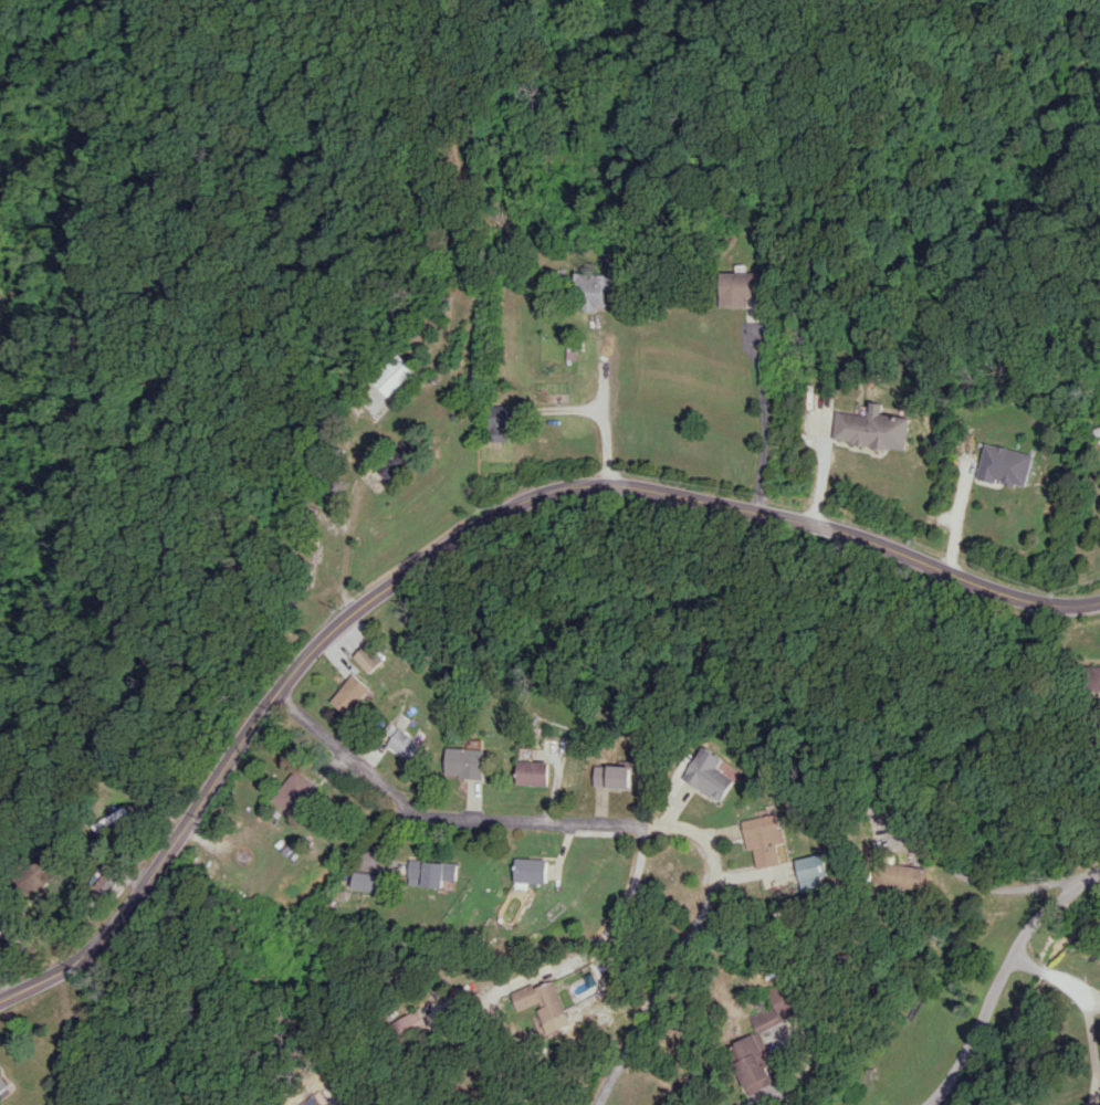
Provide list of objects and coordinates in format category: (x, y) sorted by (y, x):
building: (741, 287)
building: (595, 291)
building: (391, 375)
road: (601, 408)
road: (766, 408)
building: (497, 422)
building: (871, 428)
building: (395, 461)
building: (1004, 465)
road: (954, 519)
road: (464, 538)
building: (1094, 677)
building: (352, 694)
building: (404, 743)
building: (464, 761)
building: (533, 771)
building: (711, 773)
building: (614, 776)
building: (293, 790)
road: (616, 827)
building: (766, 839)
building: (814, 870)
building: (530, 871)
building: (431, 872)
building: (908, 875)
building: (365, 881)
road: (979, 883)
road: (1001, 977)
road: (512, 982)
building: (545, 1003)
road: (1086, 1009)
building: (408, 1021)
building: (751, 1039)
road: (779, 1075)
building: (2, 1083)
building: (311, 1101)

